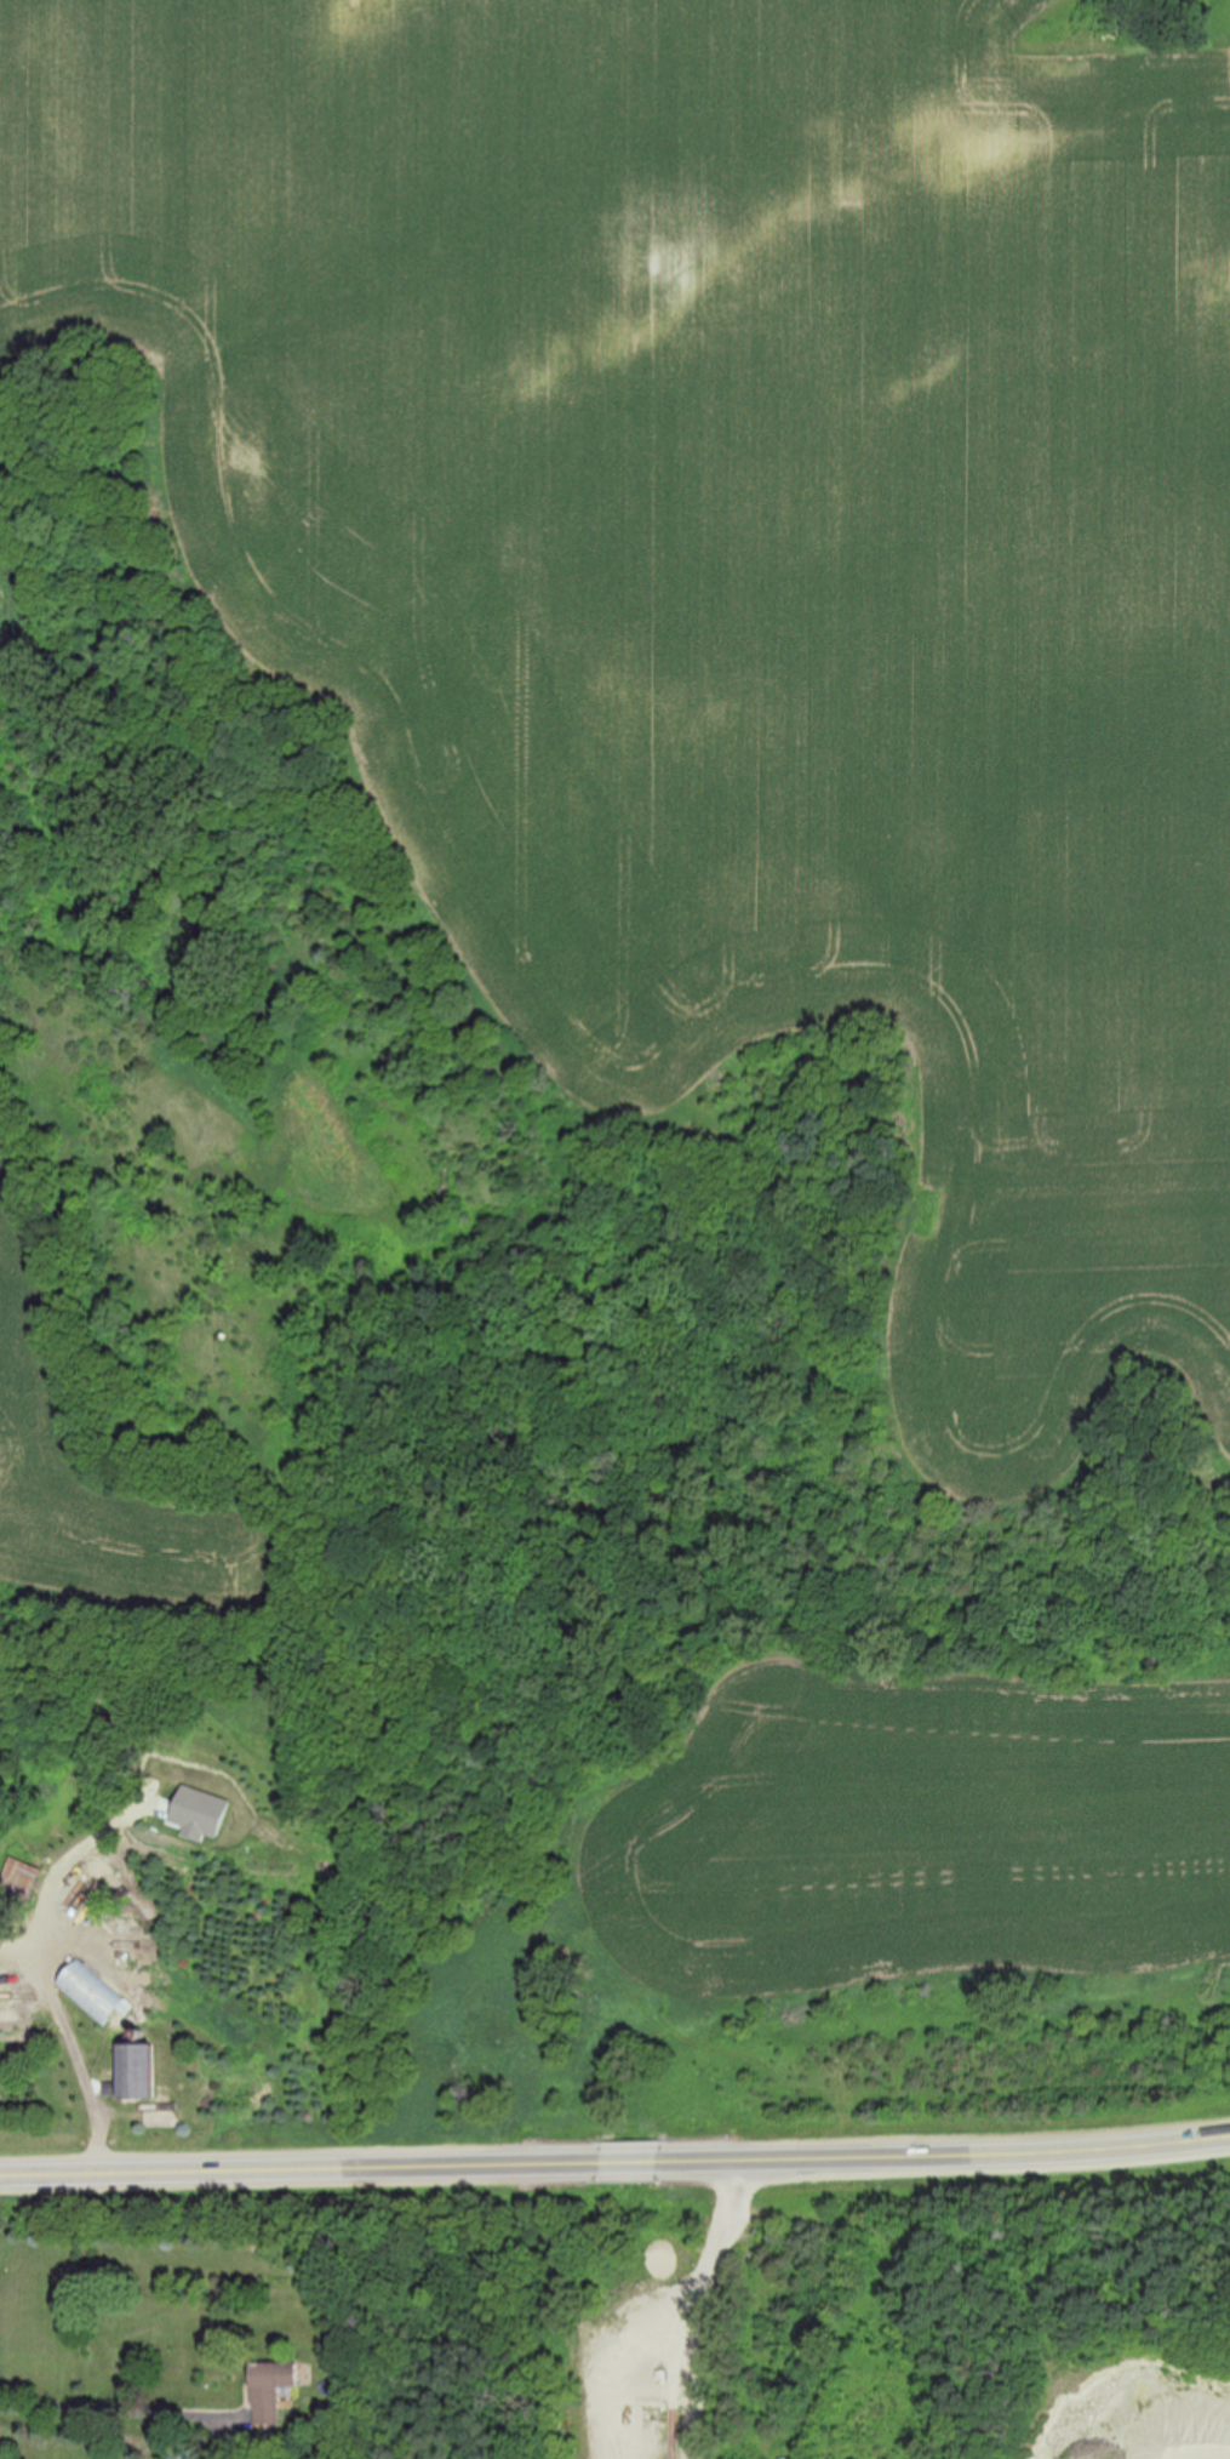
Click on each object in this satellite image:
building: (92, 1995)
road: (69, 2030)
building: (141, 2072)
road: (945, 2157)
road: (628, 2160)
road: (297, 2166)
quarry: (806, 2316)
building: (273, 2389)
road: (113, 2410)

